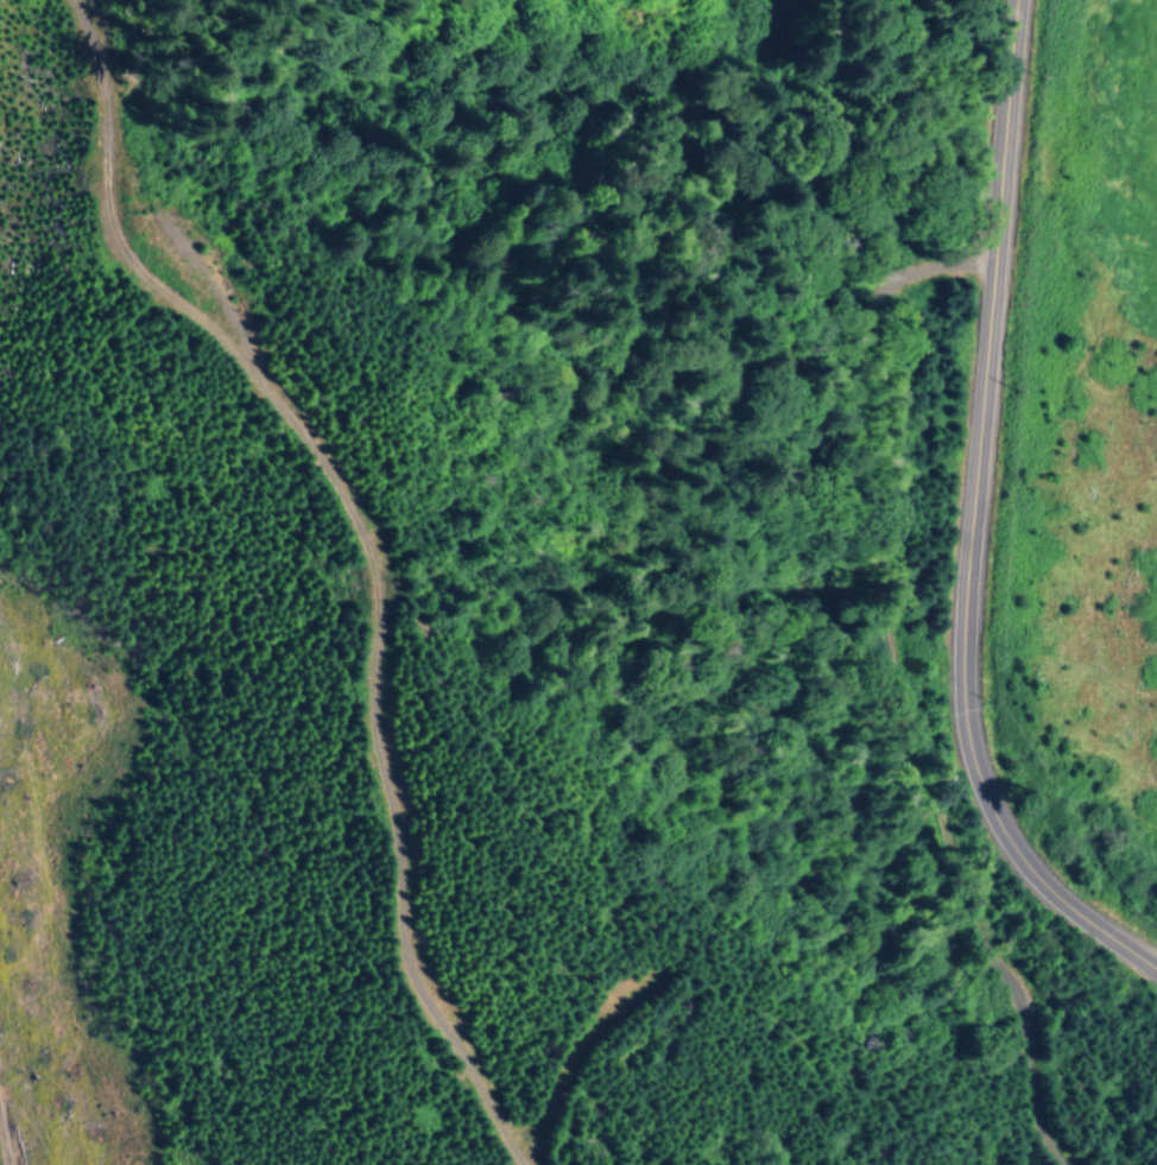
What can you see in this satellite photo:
road: (981, 520)

